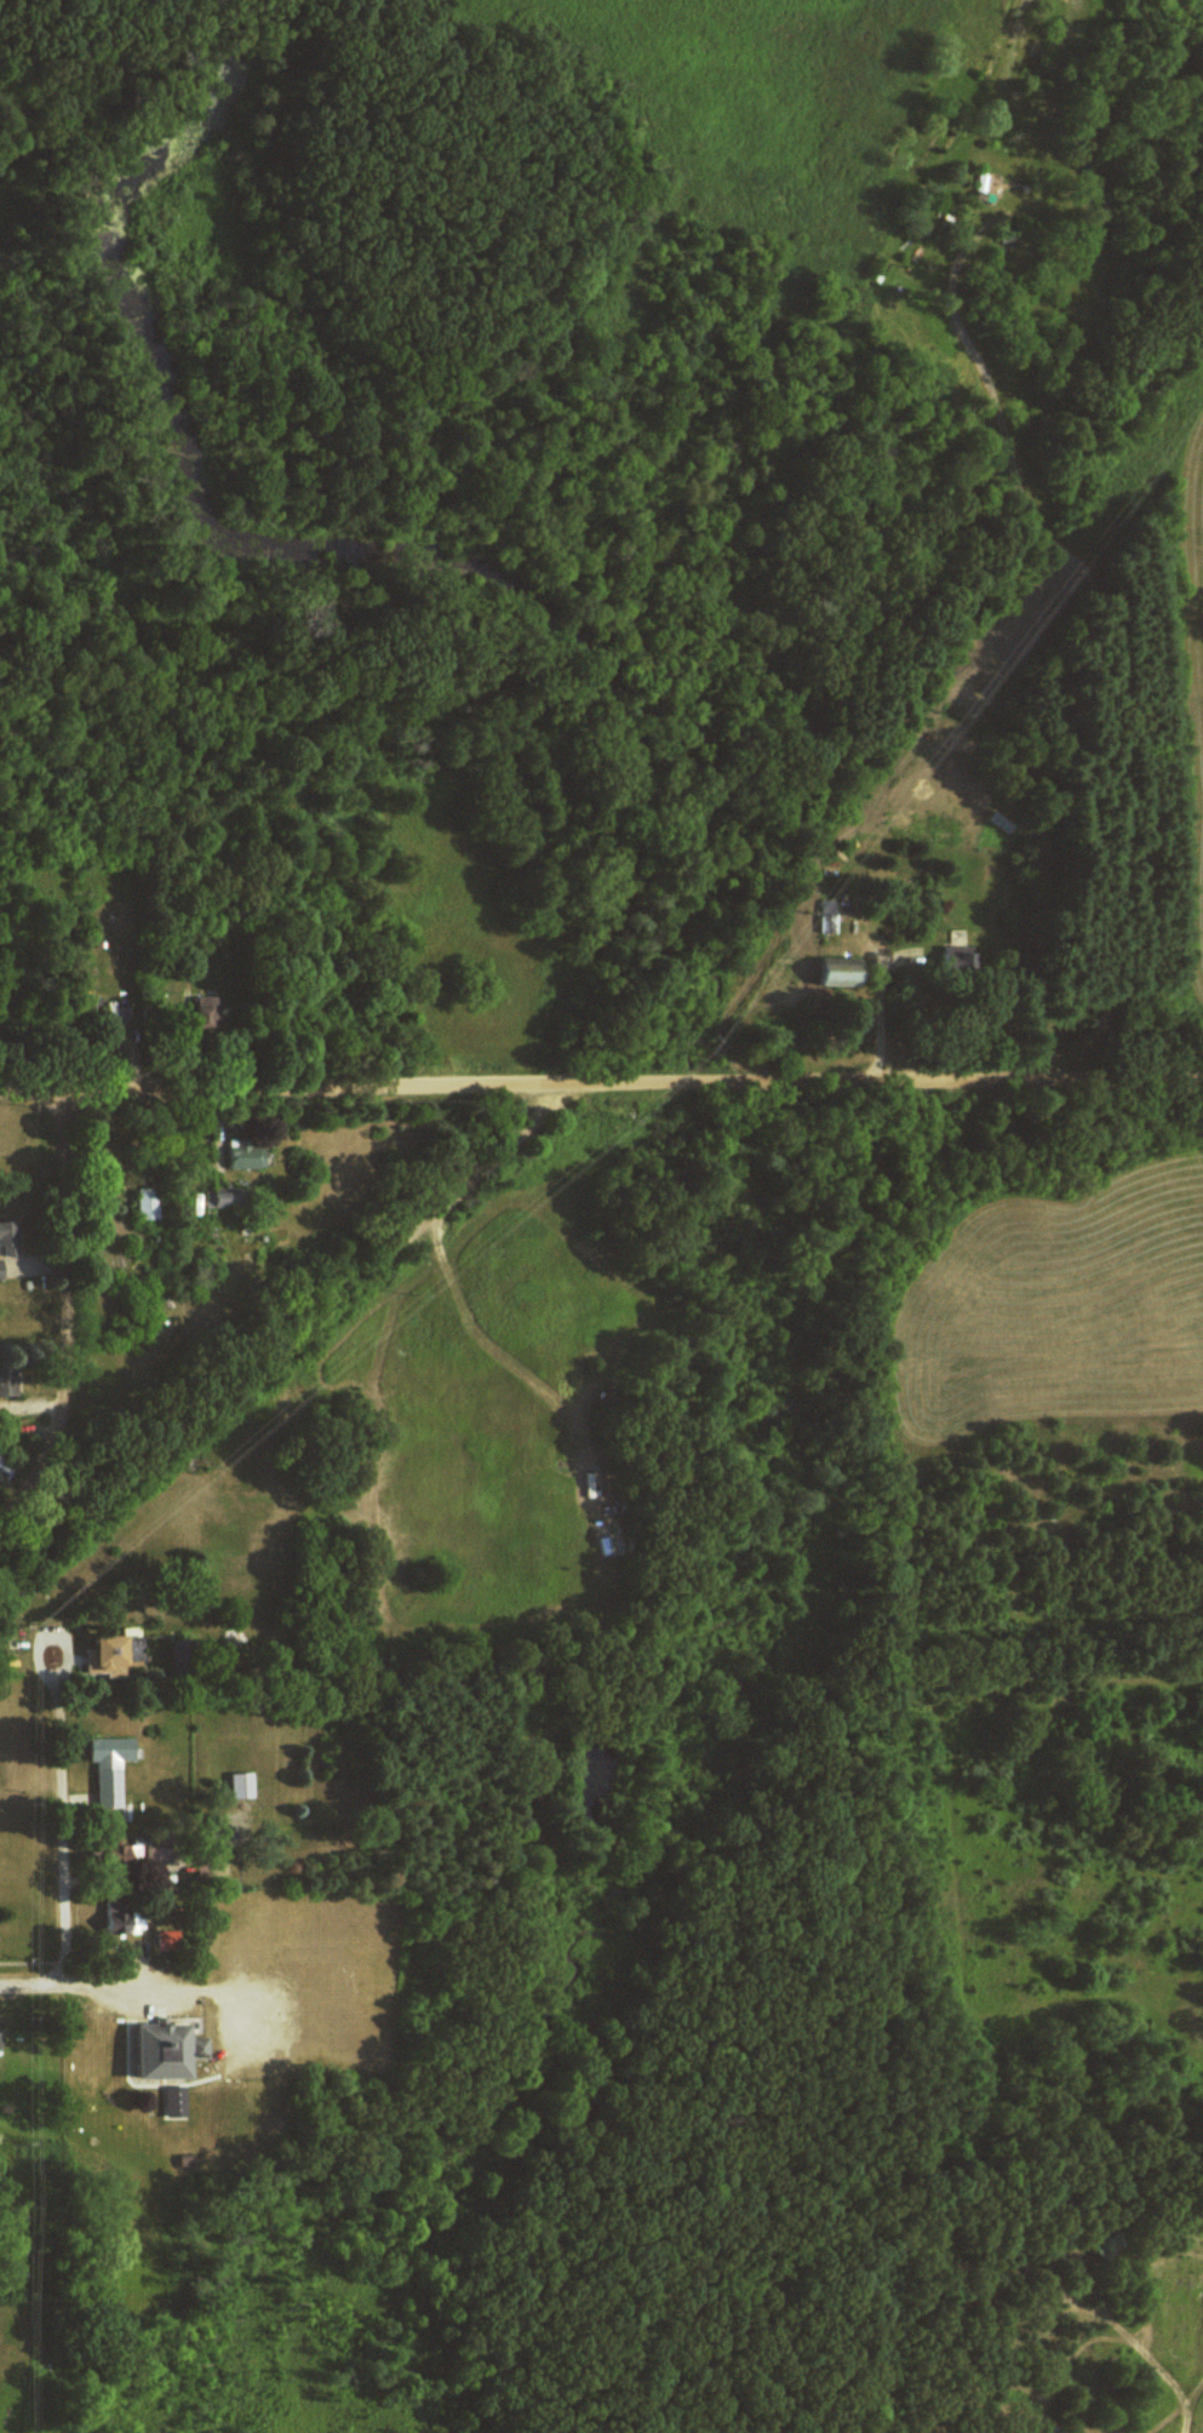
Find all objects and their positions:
building: (823, 916)
building: (830, 974)
building: (202, 1012)
building: (111, 1014)
road: (601, 1087)
building: (240, 1153)
building: (213, 1200)
building: (143, 1204)
building: (193, 1204)
building: (6, 1238)
road: (64, 1316)
building: (5, 1378)
building: (103, 1653)
building: (104, 1768)
building: (237, 1786)
road: (64, 1826)
building: (115, 1856)
building: (115, 1920)
road: (127, 1973)
parking lot: (252, 2016)
building: (195, 2048)
building: (153, 2053)
building: (171, 2100)

